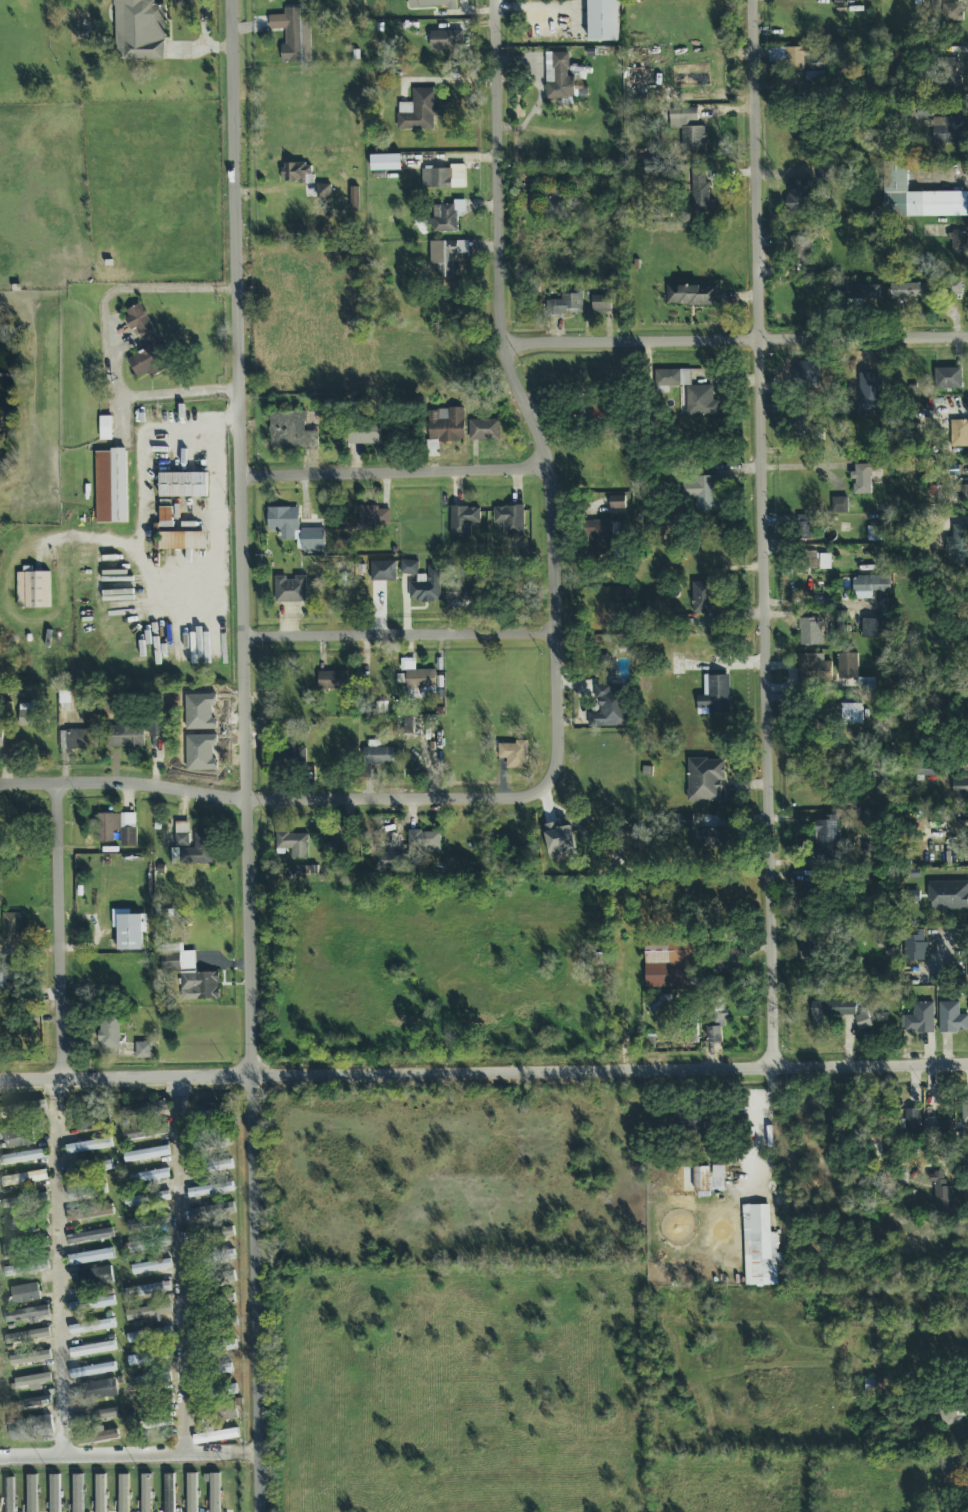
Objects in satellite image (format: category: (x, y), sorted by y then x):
building: (432, 4)
road: (533, 8)
building: (952, 13)
building: (602, 20)
building: (138, 30)
building: (293, 34)
road: (204, 37)
building: (446, 41)
building: (949, 70)
building: (559, 78)
building: (418, 111)
building: (948, 130)
building: (692, 135)
building: (386, 163)
building: (295, 172)
building: (823, 174)
building: (443, 178)
building: (323, 191)
building: (701, 193)
building: (799, 196)
building: (917, 198)
building: (354, 199)
building: (553, 203)
building: (446, 217)
building: (959, 243)
building: (446, 257)
building: (954, 287)
building: (863, 292)
building: (909, 292)
building: (692, 295)
building: (565, 303)
building: (601, 304)
building: (153, 340)
road: (107, 341)
road: (735, 341)
building: (948, 379)
road: (517, 391)
building: (689, 392)
building: (446, 426)
building: (105, 428)
building: (483, 430)
building: (290, 432)
building: (959, 434)
building: (365, 435)
road: (140, 455)
road: (807, 467)
road: (396, 473)
building: (864, 478)
building: (183, 485)
building: (110, 487)
building: (706, 494)
building: (961, 494)
building: (617, 503)
building: (839, 505)
building: (373, 516)
building: (510, 520)
building: (463, 521)
building: (294, 529)
road: (764, 534)
building: (875, 534)
building: (178, 535)
building: (601, 536)
building: (957, 543)
building: (817, 561)
building: (409, 568)
building: (383, 571)
road: (208, 586)
building: (426, 586)
building: (870, 586)
building: (32, 590)
building: (290, 590)
building: (461, 593)
building: (702, 598)
building: (869, 628)
building: (810, 632)
road: (401, 636)
building: (813, 666)
building: (677, 667)
building: (853, 671)
building: (416, 679)
building: (332, 681)
building: (716, 696)
building: (609, 708)
building: (851, 714)
building: (28, 715)
building: (155, 726)
building: (406, 726)
building: (125, 736)
building: (81, 739)
building: (1, 740)
building: (289, 753)
building: (513, 754)
road: (247, 756)
building: (377, 756)
building: (926, 770)
building: (705, 780)
building: (960, 789)
road: (279, 800)
building: (116, 828)
building: (181, 834)
building: (714, 836)
building: (827, 837)
building: (559, 840)
building: (292, 843)
building: (423, 843)
building: (195, 851)
building: (391, 862)
building: (300, 872)
building: (948, 895)
building: (913, 897)
building: (11, 929)
building: (129, 929)
road: (61, 932)
road: (946, 942)
building: (914, 946)
building: (808, 951)
building: (177, 959)
building: (729, 961)
building: (671, 963)
building: (11, 980)
building: (198, 986)
building: (830, 1010)
building: (951, 1019)
building: (918, 1020)
building: (862, 1021)
building: (716, 1024)
building: (108, 1033)
building: (691, 1035)
building: (143, 1051)
road: (484, 1074)
building: (964, 1111)
building: (12, 1112)
road: (613, 1112)
building: (92, 1119)
building: (693, 1122)
building: (913, 1123)
road: (760, 1127)
building: (937, 1128)
building: (145, 1132)
building: (18, 1138)
building: (213, 1143)
building: (88, 1146)
building: (874, 1148)
building: (146, 1154)
building: (25, 1157)
road: (955, 1164)
building: (210, 1168)
building: (90, 1169)
building: (719, 1173)
building: (150, 1177)
building: (24, 1179)
building: (701, 1179)
building: (211, 1190)
building: (87, 1191)
building: (942, 1193)
building: (147, 1200)
building: (25, 1201)
building: (90, 1213)
building: (211, 1213)
building: (28, 1222)
building: (149, 1222)
building: (211, 1234)
building: (90, 1237)
building: (148, 1245)
building: (12, 1248)
building: (760, 1248)
building: (214, 1256)
building: (91, 1257)
building: (151, 1267)
road: (183, 1267)
building: (25, 1268)
road: (60, 1268)
building: (97, 1277)
building: (219, 1278)
building: (148, 1290)
building: (25, 1294)
building: (92, 1304)
building: (149, 1312)
building: (26, 1314)
building: (210, 1325)
building: (92, 1327)
building: (150, 1334)
building: (26, 1337)
building: (213, 1347)
building: (93, 1349)
building: (151, 1357)
building: (30, 1359)
building: (93, 1370)
building: (212, 1371)
building: (154, 1380)
building: (33, 1381)
building: (874, 1385)
building: (98, 1390)
building: (38, 1402)
building: (226, 1412)
building: (950, 1414)
building: (99, 1415)
building: (165, 1422)
building: (30, 1428)
building: (219, 1436)
building: (97, 1437)
road: (130, 1457)
building: (950, 1464)
building: (967, 1488)
building: (214, 1491)
building: (146, 1493)
building: (169, 1493)
building: (192, 1493)
building: (32, 1494)
building: (54, 1494)
building: (78, 1494)
building: (100, 1494)
building: (123, 1494)
building: (9, 1495)

